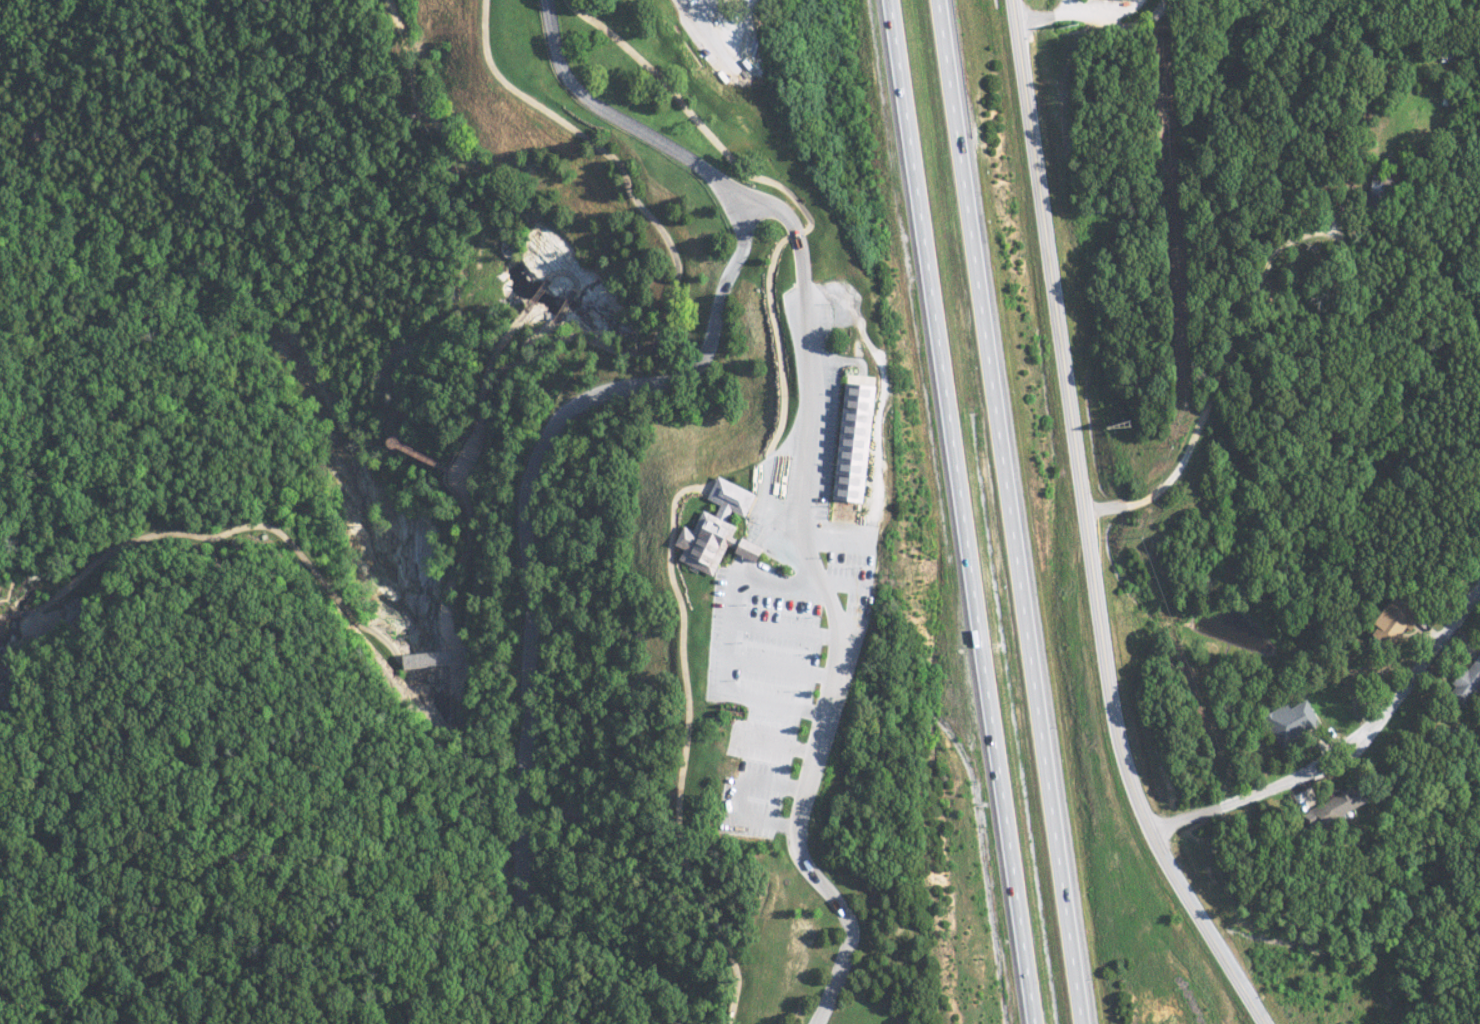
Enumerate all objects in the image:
road: (1096, 10)
road: (1094, 18)
road: (702, 33)
road: (633, 204)
road: (801, 208)
road: (566, 273)
road: (540, 291)
road: (565, 304)
road: (1215, 376)
road: (553, 416)
road: (1073, 416)
road: (429, 458)
road: (463, 469)
road: (962, 511)
road: (1005, 512)
building: (720, 529)
road: (218, 534)
road: (754, 537)
building: (856, 547)
road: (824, 605)
building: (1395, 620)
road: (726, 640)
road: (427, 658)
building: (431, 659)
building: (1471, 679)
road: (685, 718)
building: (1296, 721)
road: (1360, 749)
building: (1344, 805)
road: (1164, 822)
road: (1205, 924)

